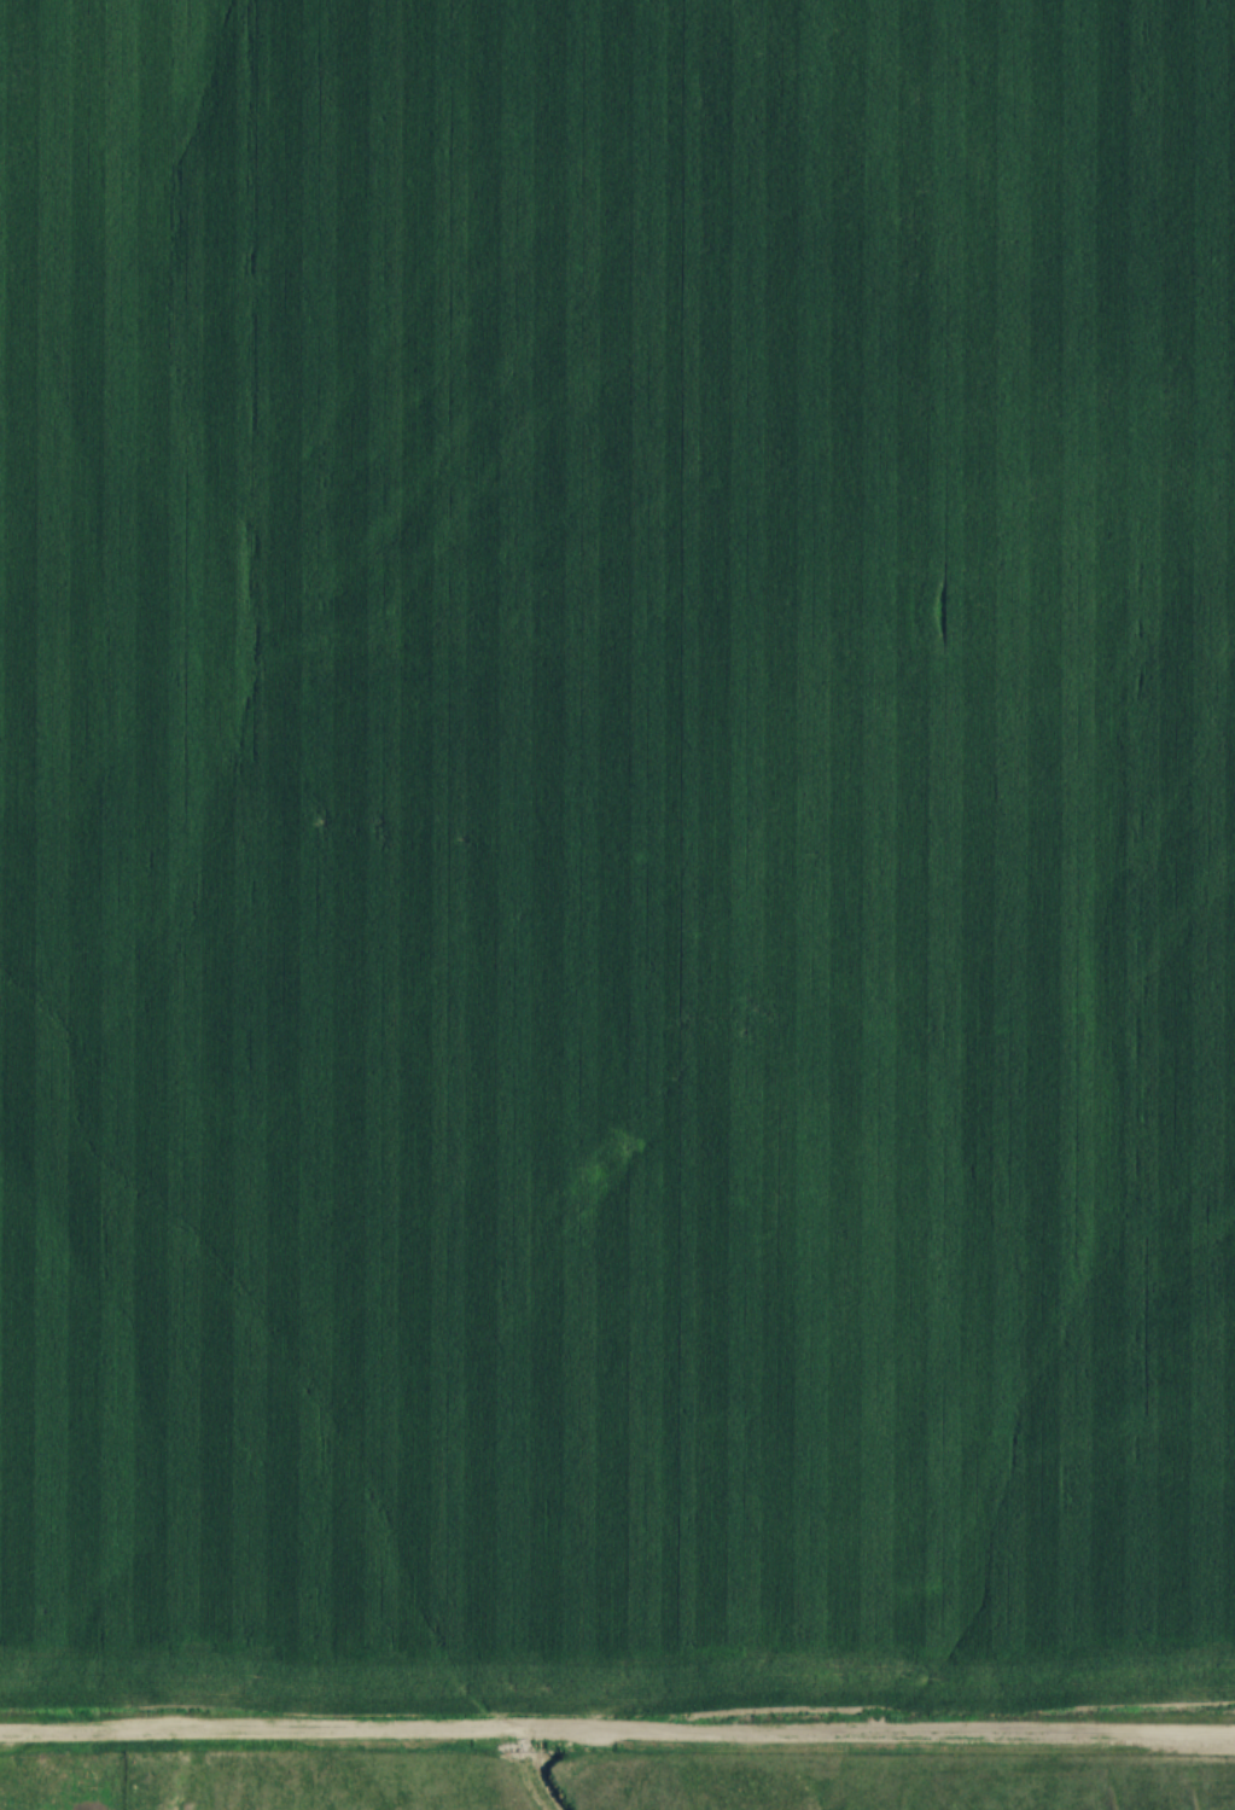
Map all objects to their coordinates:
road: (617, 1736)

